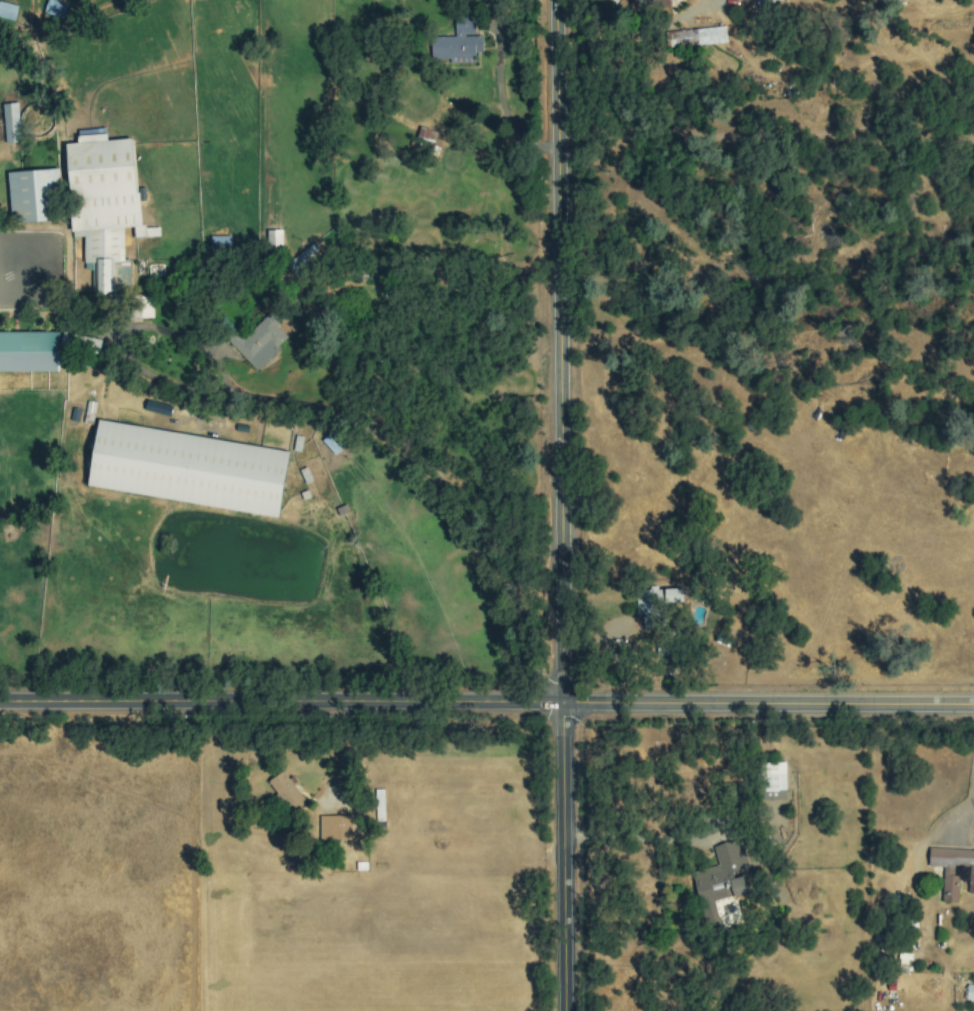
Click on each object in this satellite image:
building: (763, 2)
building: (650, 4)
building: (55, 8)
building: (695, 36)
building: (458, 42)
building: (11, 123)
road: (768, 131)
building: (426, 133)
building: (33, 195)
building: (104, 205)
building: (274, 239)
building: (220, 243)
building: (301, 260)
building: (142, 306)
building: (260, 340)
building: (81, 342)
building: (29, 351)
road: (308, 404)
building: (333, 443)
building: (188, 468)
road: (564, 505)
building: (656, 603)
road: (552, 685)
road: (283, 702)
road: (770, 703)
building: (773, 781)
building: (286, 791)
building: (378, 805)
road: (971, 809)
building: (335, 827)
road: (651, 839)
building: (952, 870)
building: (722, 885)
building: (970, 992)

